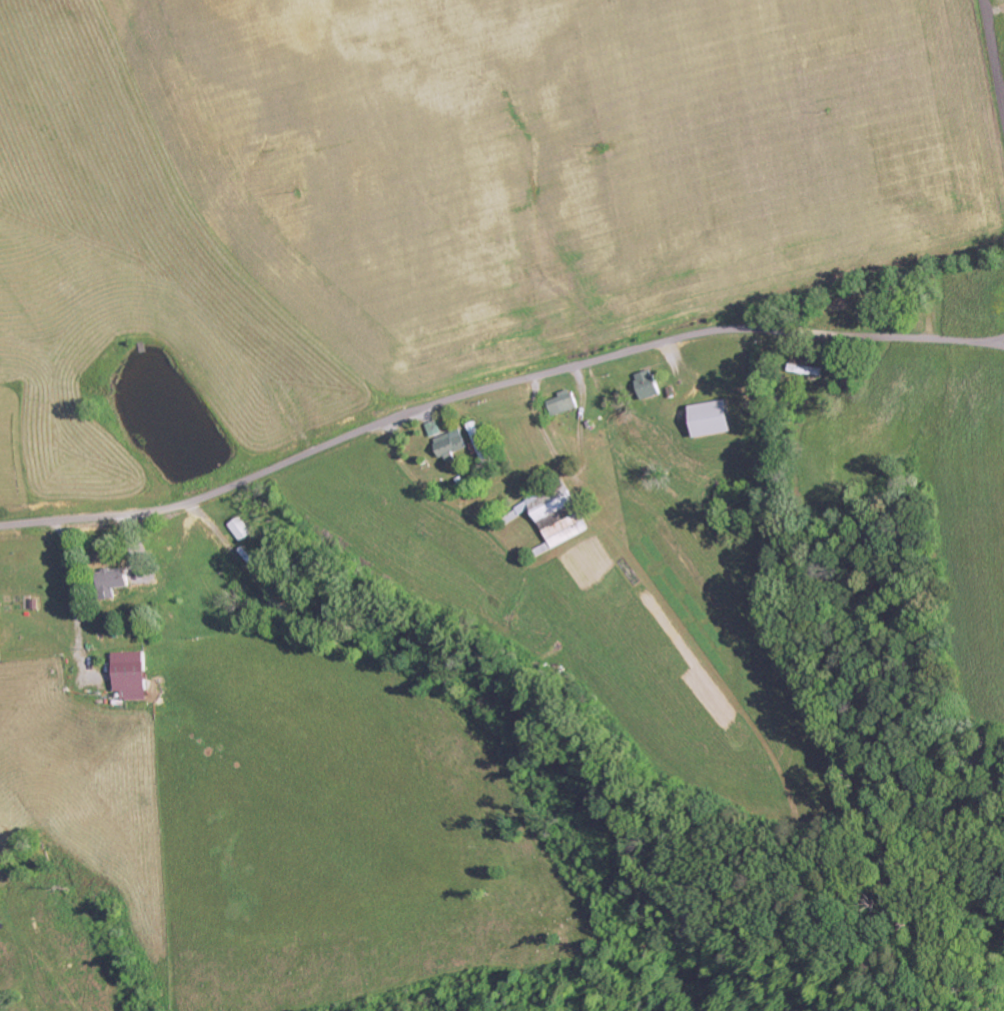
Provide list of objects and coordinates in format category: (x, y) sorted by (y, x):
road: (993, 56)
road: (995, 341)
road: (494, 387)

